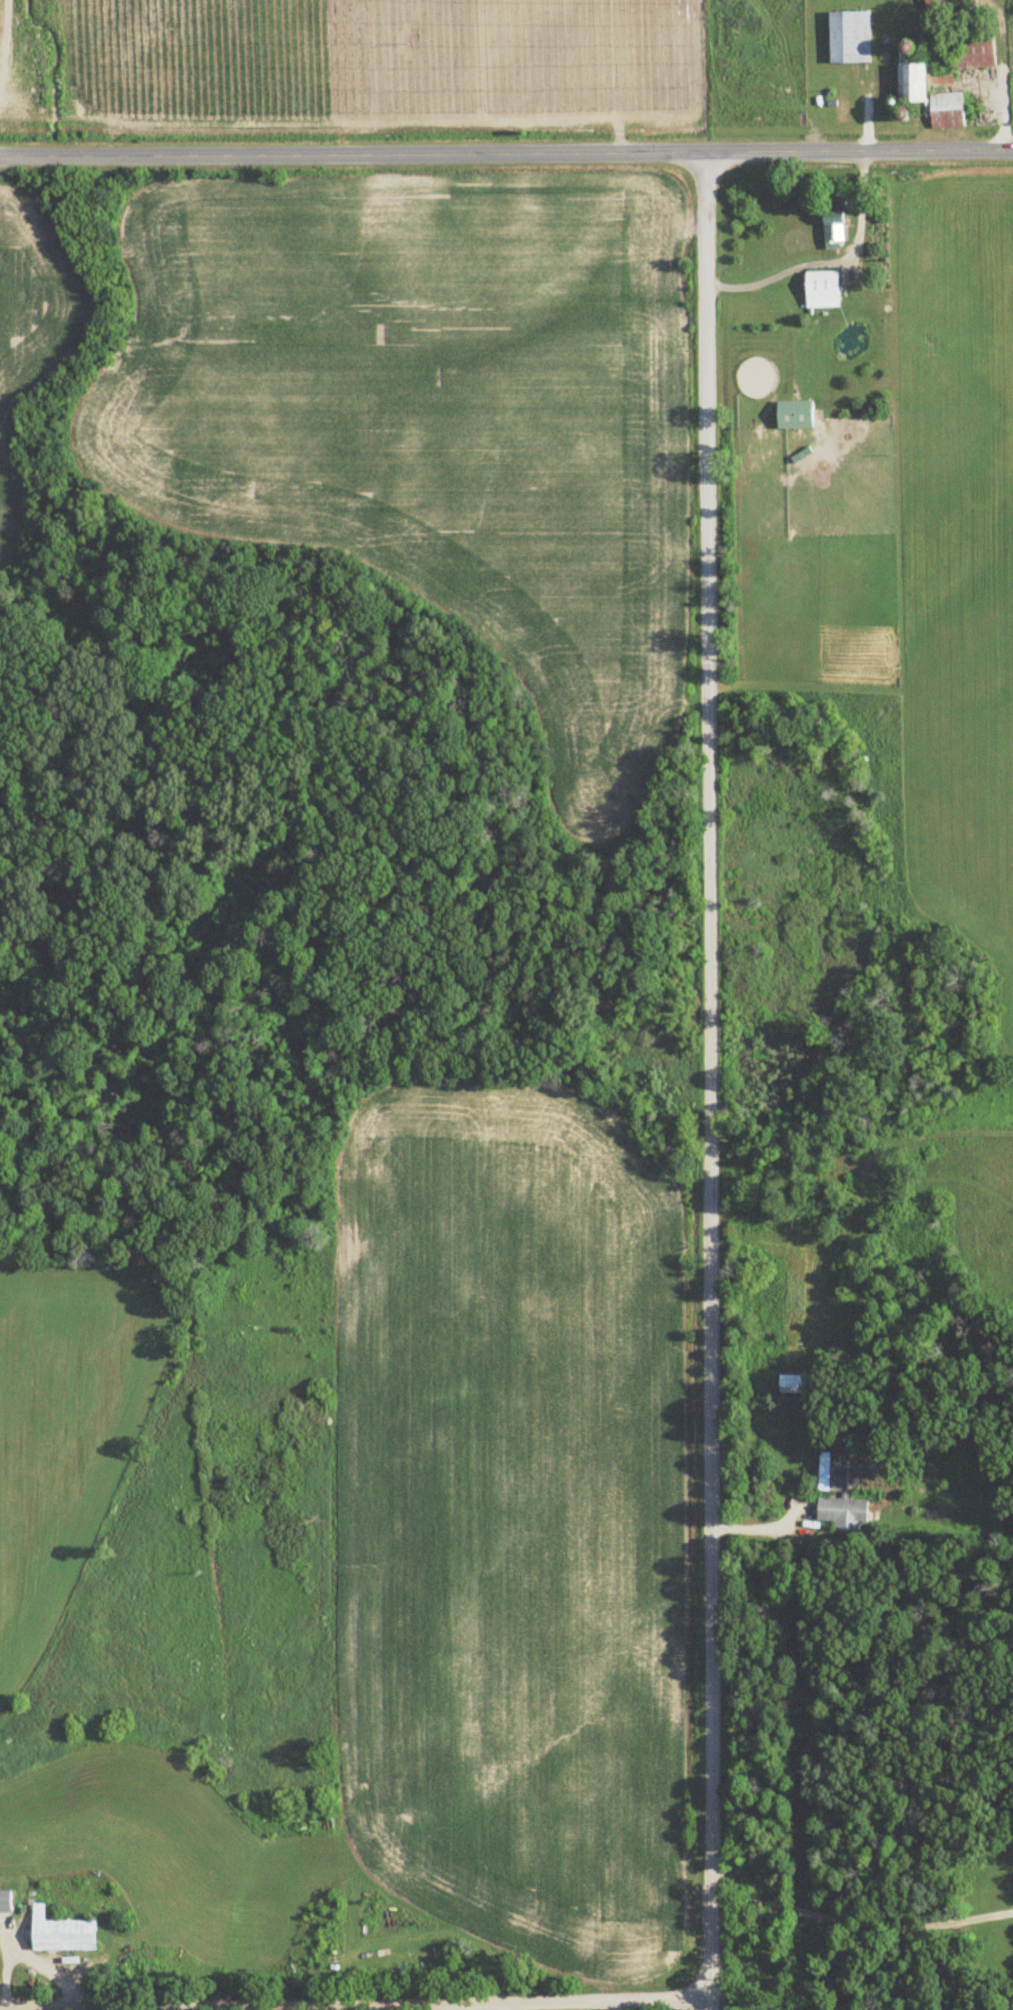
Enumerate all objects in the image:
building: (954, 4)
building: (852, 38)
building: (953, 77)
road: (506, 152)
building: (838, 229)
road: (828, 260)
building: (825, 290)
building: (798, 414)
road: (710, 1080)
building: (792, 1384)
building: (833, 1474)
building: (844, 1514)
road: (764, 1528)
building: (7, 1903)
road: (861, 1922)
building: (66, 1935)
road: (356, 2004)
road: (499, 2006)
road: (616, 2006)

